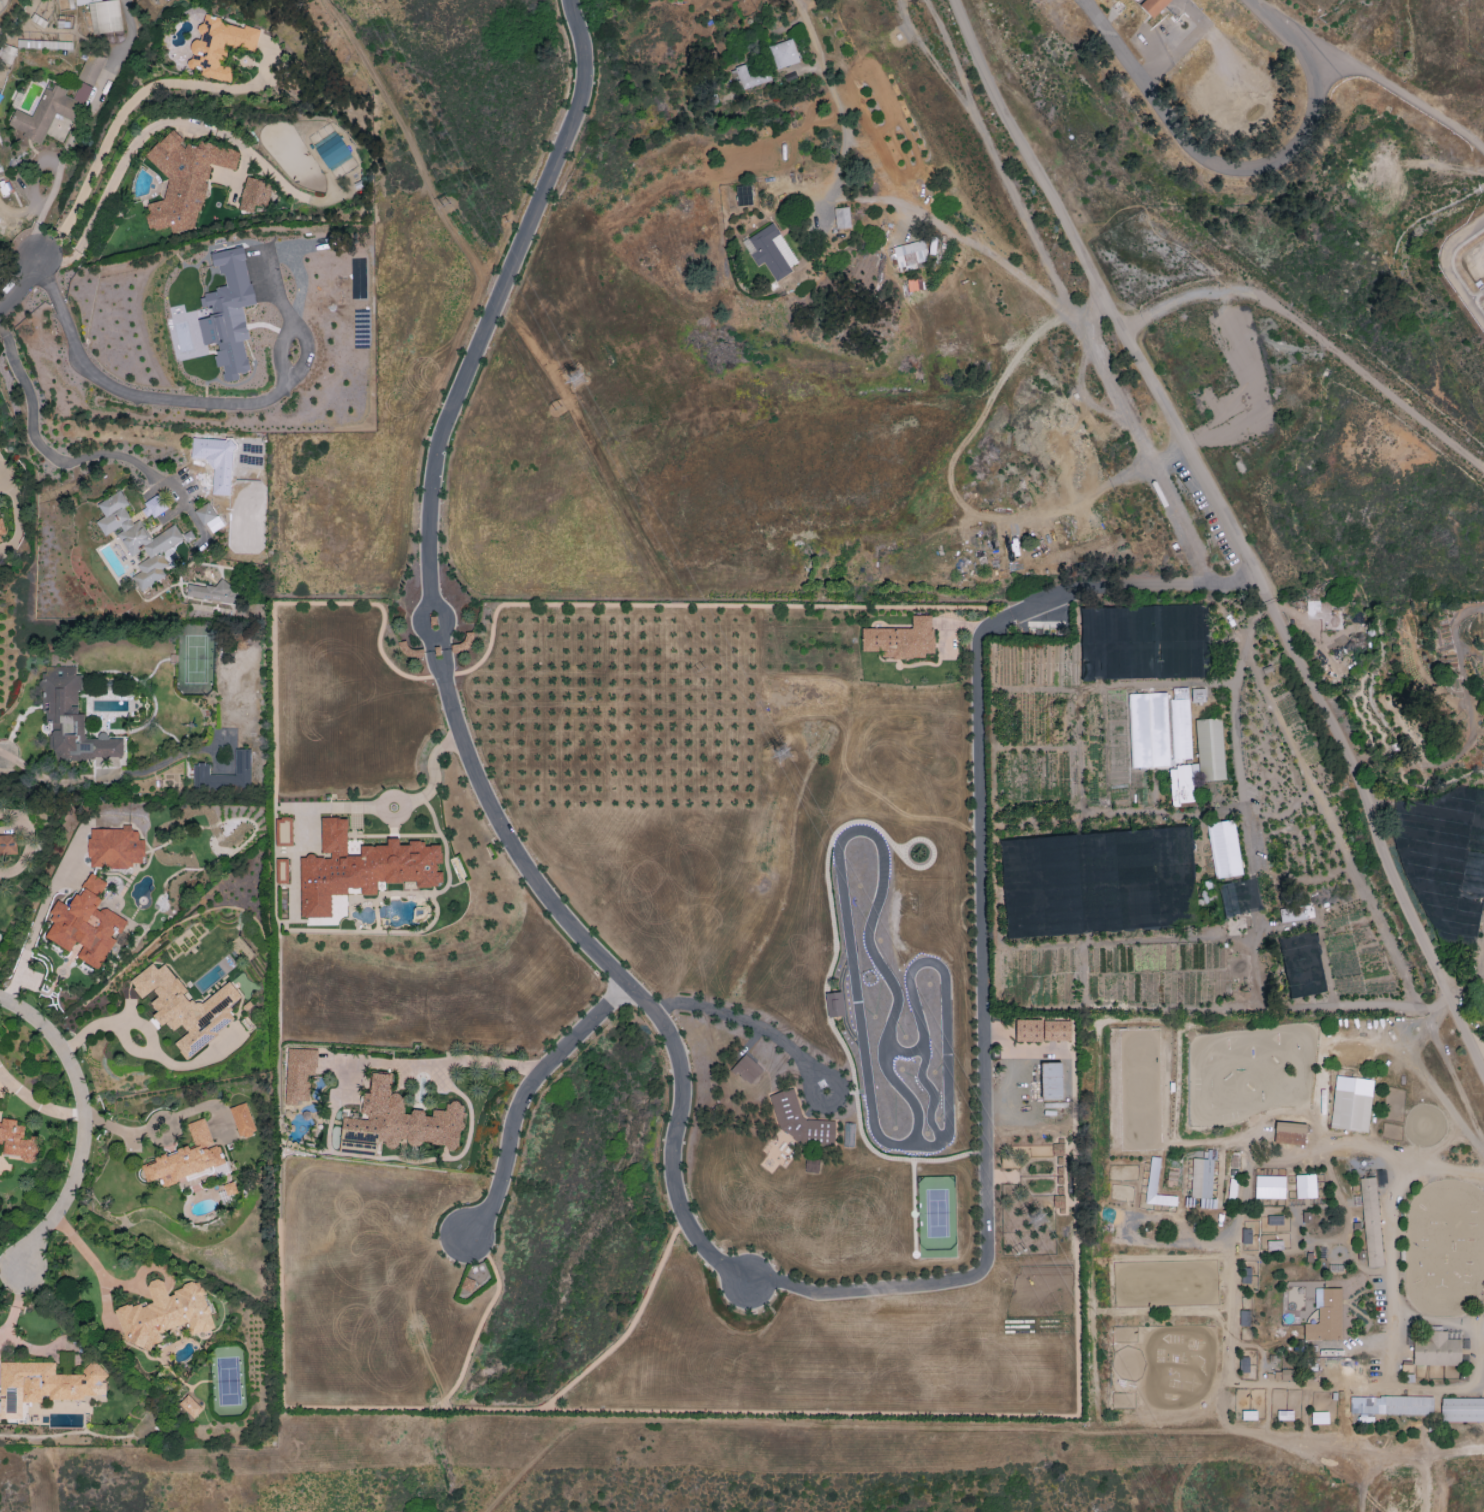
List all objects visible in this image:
building: (1153, 6)
building: (105, 16)
building: (108, 36)
building: (53, 44)
building: (219, 46)
building: (7, 53)
building: (784, 53)
road: (926, 56)
building: (91, 68)
building: (750, 77)
road: (833, 95)
road: (127, 108)
building: (50, 110)
road: (76, 124)
road: (149, 130)
building: (332, 151)
road: (1243, 169)
building: (184, 179)
building: (253, 194)
building: (743, 195)
power tower: (446, 202)
road: (42, 212)
building: (842, 217)
road: (1148, 222)
road: (959, 239)
building: (770, 251)
building: (910, 253)
building: (914, 284)
road: (21, 287)
road: (502, 292)
road: (1087, 306)
building: (228, 313)
road: (1315, 332)
power tower: (576, 378)
road: (1082, 391)
road: (184, 399)
power tower: (559, 412)
road: (111, 416)
road: (40, 444)
building: (216, 461)
road: (1, 476)
road: (174, 510)
building: (205, 513)
building: (1, 526)
road: (1234, 531)
building: (137, 538)
road: (1205, 568)
building: (213, 591)
road: (841, 608)
road: (446, 618)
road: (422, 620)
building: (901, 639)
road: (446, 664)
road: (434, 667)
power tower: (700, 668)
road: (1464, 690)
building: (1198, 695)
building: (71, 718)
building: (1160, 727)
building: (1209, 749)
power tower: (781, 754)
road: (1238, 757)
building: (201, 768)
road: (108, 779)
building: (1182, 783)
road: (348, 807)
road: (7, 813)
building: (283, 832)
building: (7, 844)
building: (114, 847)
building: (1224, 849)
building: (361, 868)
building: (281, 870)
road: (51, 887)
building: (1229, 898)
building: (1295, 913)
building: (85, 923)
road: (620, 977)
building: (834, 1004)
road: (1306, 1006)
building: (186, 1007)
road: (750, 1024)
road: (141, 1025)
building: (1041, 1031)
road: (985, 1055)
road: (197, 1059)
road: (424, 1063)
building: (746, 1069)
building: (299, 1073)
building: (1051, 1081)
road: (520, 1097)
road: (36, 1103)
building: (1351, 1103)
road: (1274, 1108)
building: (242, 1119)
building: (401, 1119)
building: (799, 1120)
road: (82, 1125)
road: (144, 1133)
building: (1289, 1133)
building: (17, 1140)
building: (189, 1156)
building: (1060, 1166)
building: (1152, 1176)
building: (1202, 1177)
building: (1269, 1186)
building: (1305, 1186)
power tower: (1036, 1219)
building: (1274, 1220)
building: (1370, 1222)
building: (1245, 1236)
building: (1274, 1245)
road: (1391, 1248)
power tower: (1019, 1251)
road: (9, 1265)
road: (96, 1268)
road: (1189, 1277)
building: (467, 1284)
road: (1227, 1302)
building: (164, 1313)
building: (1325, 1316)
road: (1347, 1343)
building: (1435, 1349)
building: (1244, 1364)
road: (1169, 1372)
building: (1280, 1375)
road: (1462, 1383)
building: (44, 1385)
building: (1391, 1405)
building: (190, 1406)
building: (1462, 1410)
building: (1248, 1415)
building: (1284, 1415)
building: (1319, 1417)
road: (919, 1429)
road: (1402, 1456)

